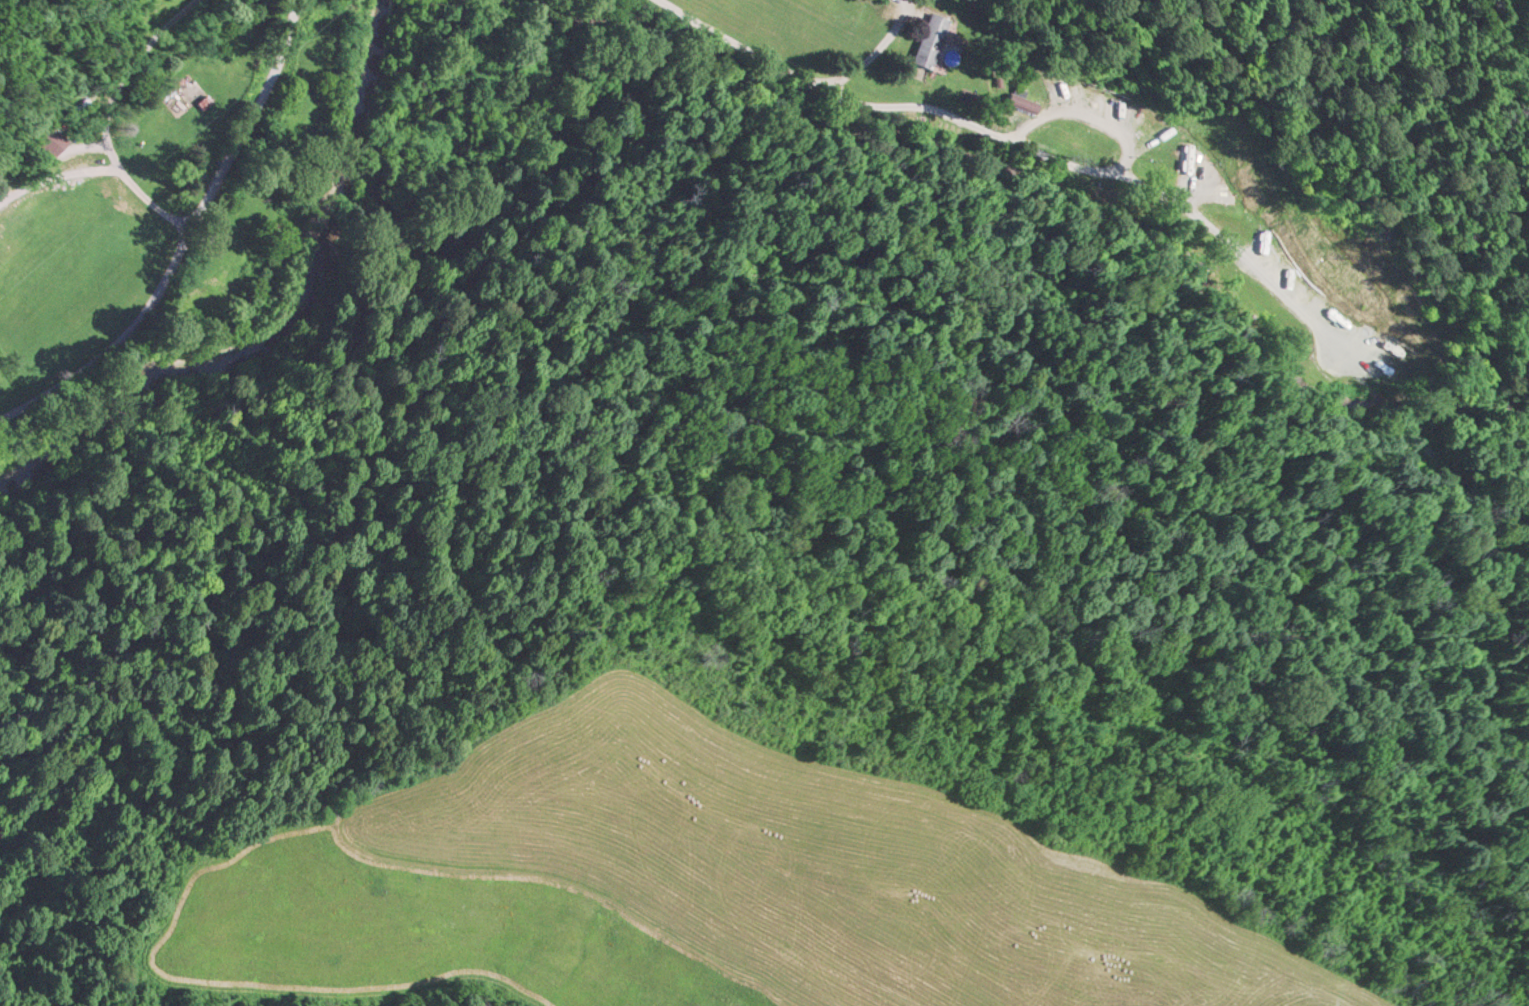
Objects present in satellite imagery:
building: (928, 41)
road: (106, 113)
road: (956, 113)
building: (1204, 170)
road: (185, 235)

